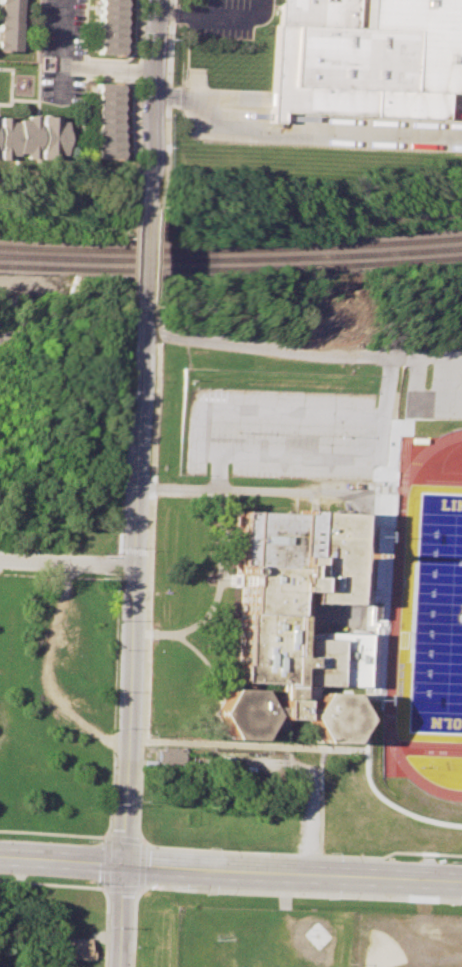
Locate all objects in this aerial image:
road: (195, 8)
road: (174, 15)
road: (232, 16)
parking lot: (225, 17)
building: (11, 25)
building: (110, 27)
road: (62, 50)
parking lot: (61, 51)
building: (365, 58)
road: (106, 70)
road: (193, 85)
road: (148, 106)
road: (167, 106)
building: (107, 119)
road: (298, 131)
building: (32, 136)
railway: (231, 249)
road: (145, 255)
road: (158, 255)
railway: (231, 259)
railway: (231, 269)
road: (397, 357)
road: (437, 357)
parking lot: (431, 384)
road: (412, 407)
parking lot: (276, 435)
road: (351, 462)
road: (218, 473)
road: (336, 494)
road: (68, 563)
road: (136, 583)
track: (393, 587)
park: (433, 587)
building: (289, 622)
road: (145, 657)
road: (275, 745)
building: (169, 755)
road: (310, 791)
road: (320, 811)
building: (356, 825)
street lamp: (91, 841)
street lamp: (211, 848)
street lamp: (330, 852)
road: (389, 853)
street lamp: (452, 861)
road: (61, 864)
road: (293, 874)
street lamp: (87, 881)
road: (261, 891)
street lamp: (208, 894)
street lamp: (328, 899)
street lamp: (449, 905)
road: (122, 918)
road: (424, 930)
park: (251, 936)
building: (73, 945)
road: (404, 949)

